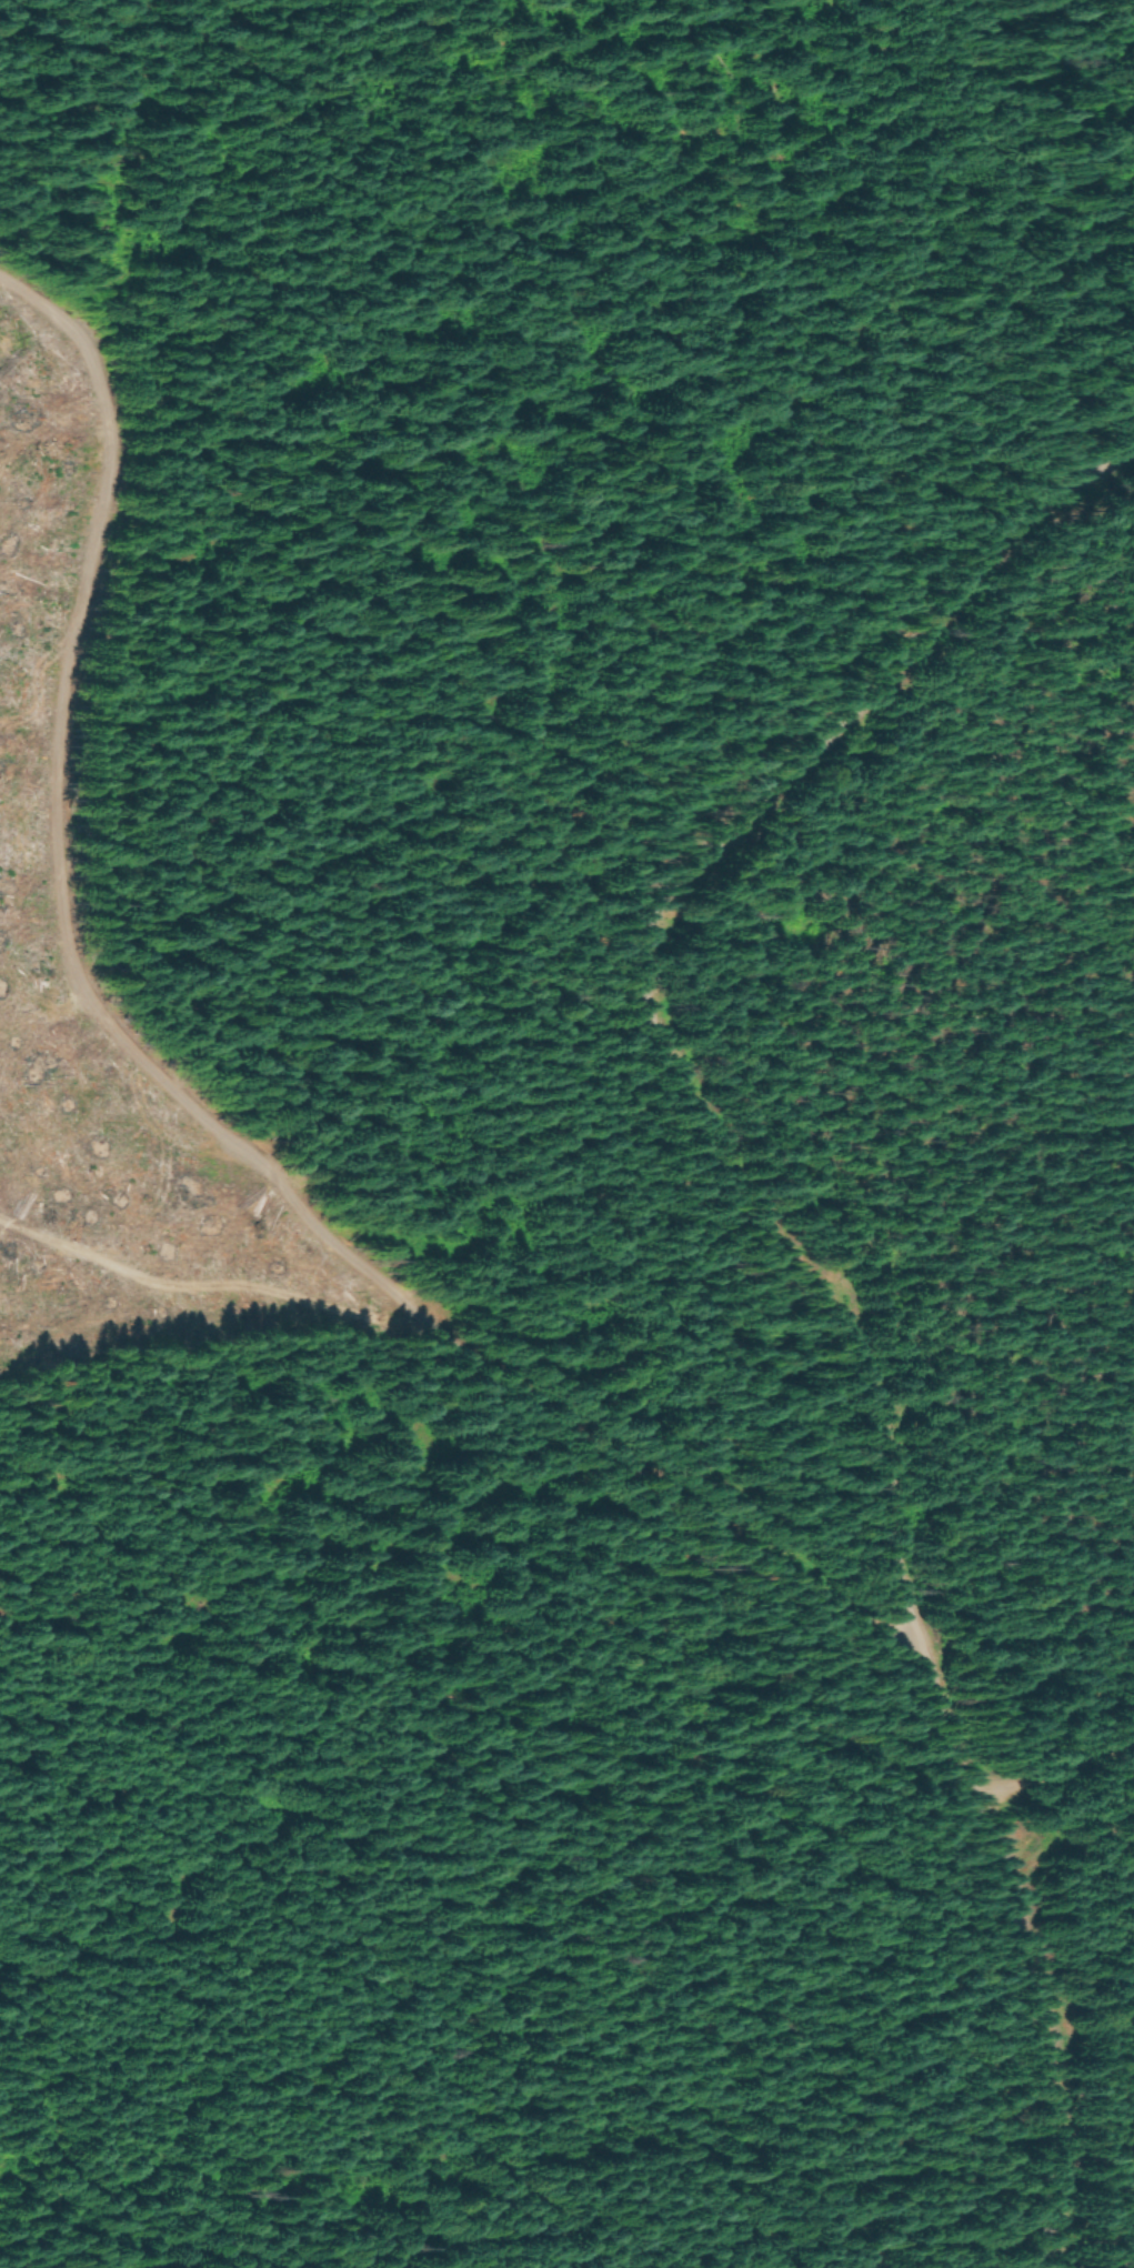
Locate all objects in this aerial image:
road: (194, 1101)
road: (800, 1263)
road: (1061, 1775)

